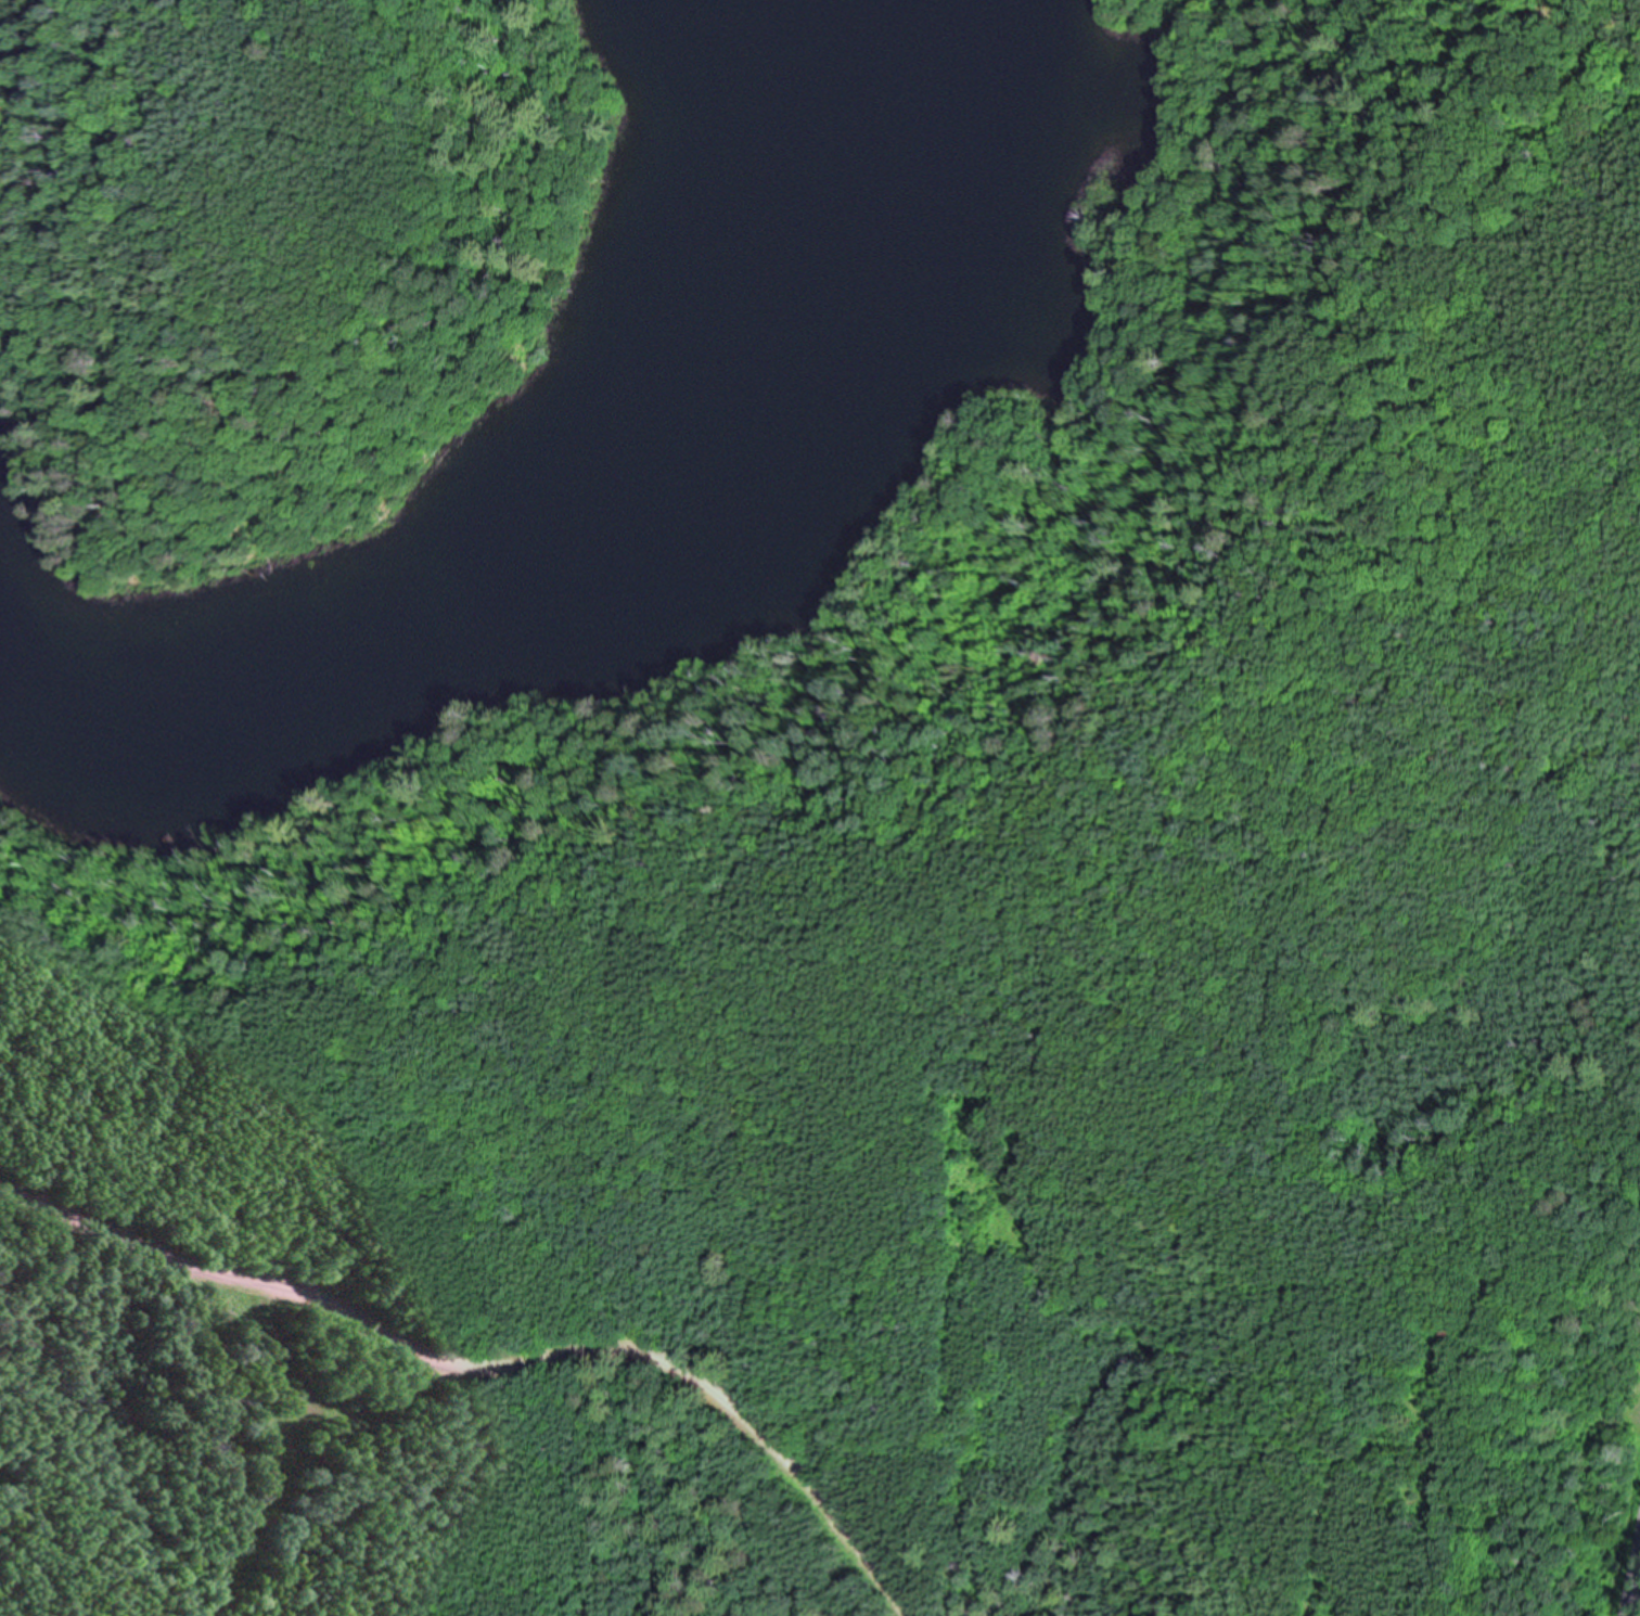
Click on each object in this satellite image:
quarry: (733, 1232)
road: (496, 1364)
road: (1630, 1549)

